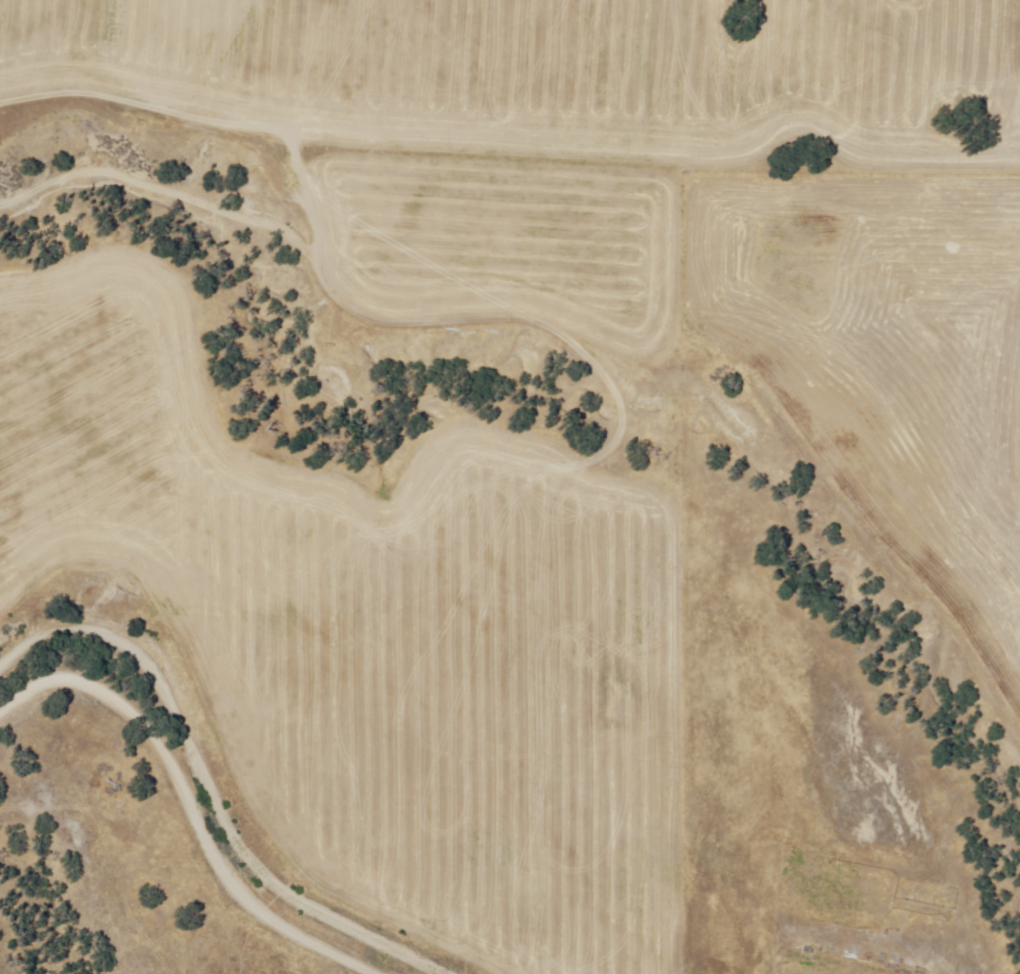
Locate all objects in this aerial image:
crop: (519, 124)
road: (205, 790)
road: (185, 807)

